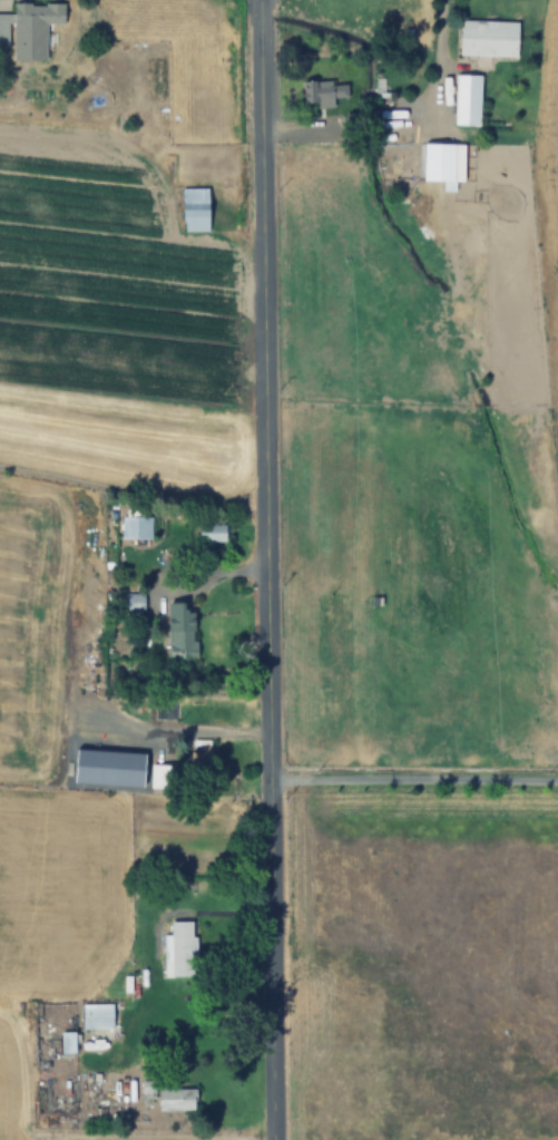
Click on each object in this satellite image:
building: (29, 21)
building: (488, 37)
building: (325, 92)
building: (467, 101)
building: (438, 162)
crop: (546, 179)
building: (195, 208)
building: (136, 527)
building: (212, 532)
road: (266, 569)
building: (131, 603)
building: (179, 630)
building: (160, 776)
building: (117, 778)
building: (178, 949)
building: (97, 1015)
building: (68, 1042)
building: (176, 1099)

